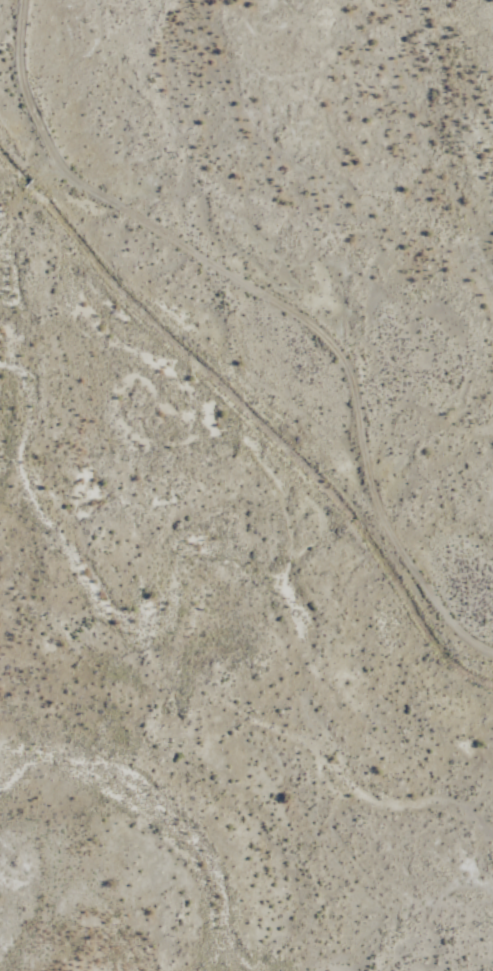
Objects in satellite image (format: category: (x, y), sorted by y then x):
road: (266, 310)

